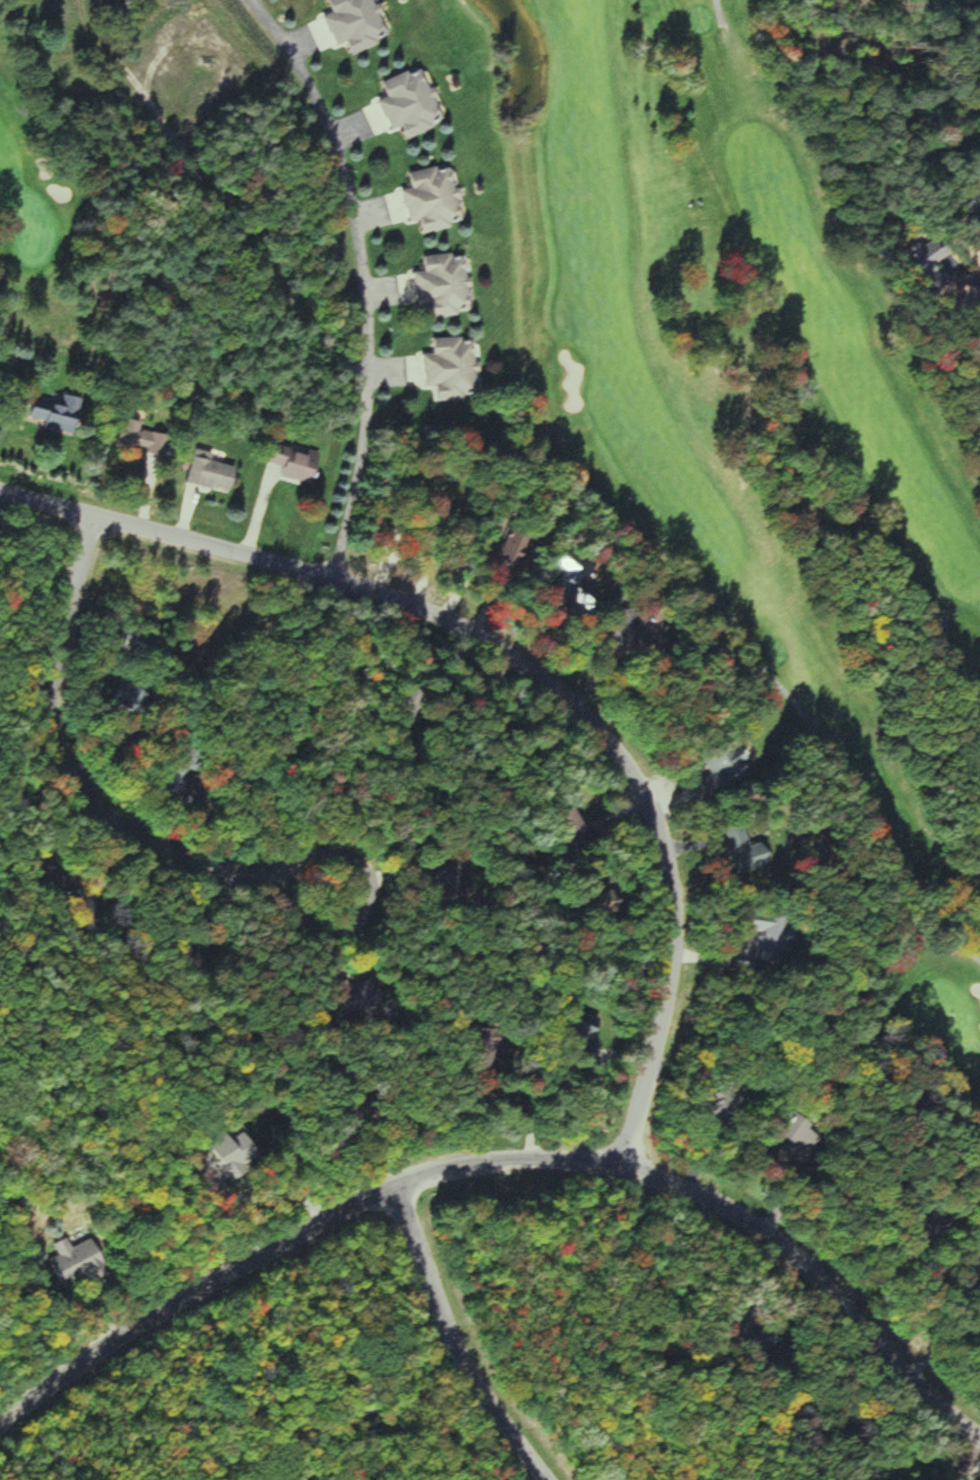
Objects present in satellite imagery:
building: (359, 24)
building: (413, 104)
park: (66, 163)
building: (972, 188)
building: (436, 199)
building: (934, 263)
building: (447, 286)
building: (455, 369)
building: (61, 414)
building: (143, 438)
park: (763, 457)
building: (306, 465)
building: (213, 473)
building: (573, 582)
building: (653, 628)
road: (519, 673)
building: (135, 695)
building: (724, 770)
road: (71, 788)
building: (774, 940)
building: (365, 999)
building: (593, 1022)
building: (724, 1100)
building: (803, 1132)
building: (244, 1152)
road: (504, 1165)
building: (82, 1261)
road: (451, 1343)

